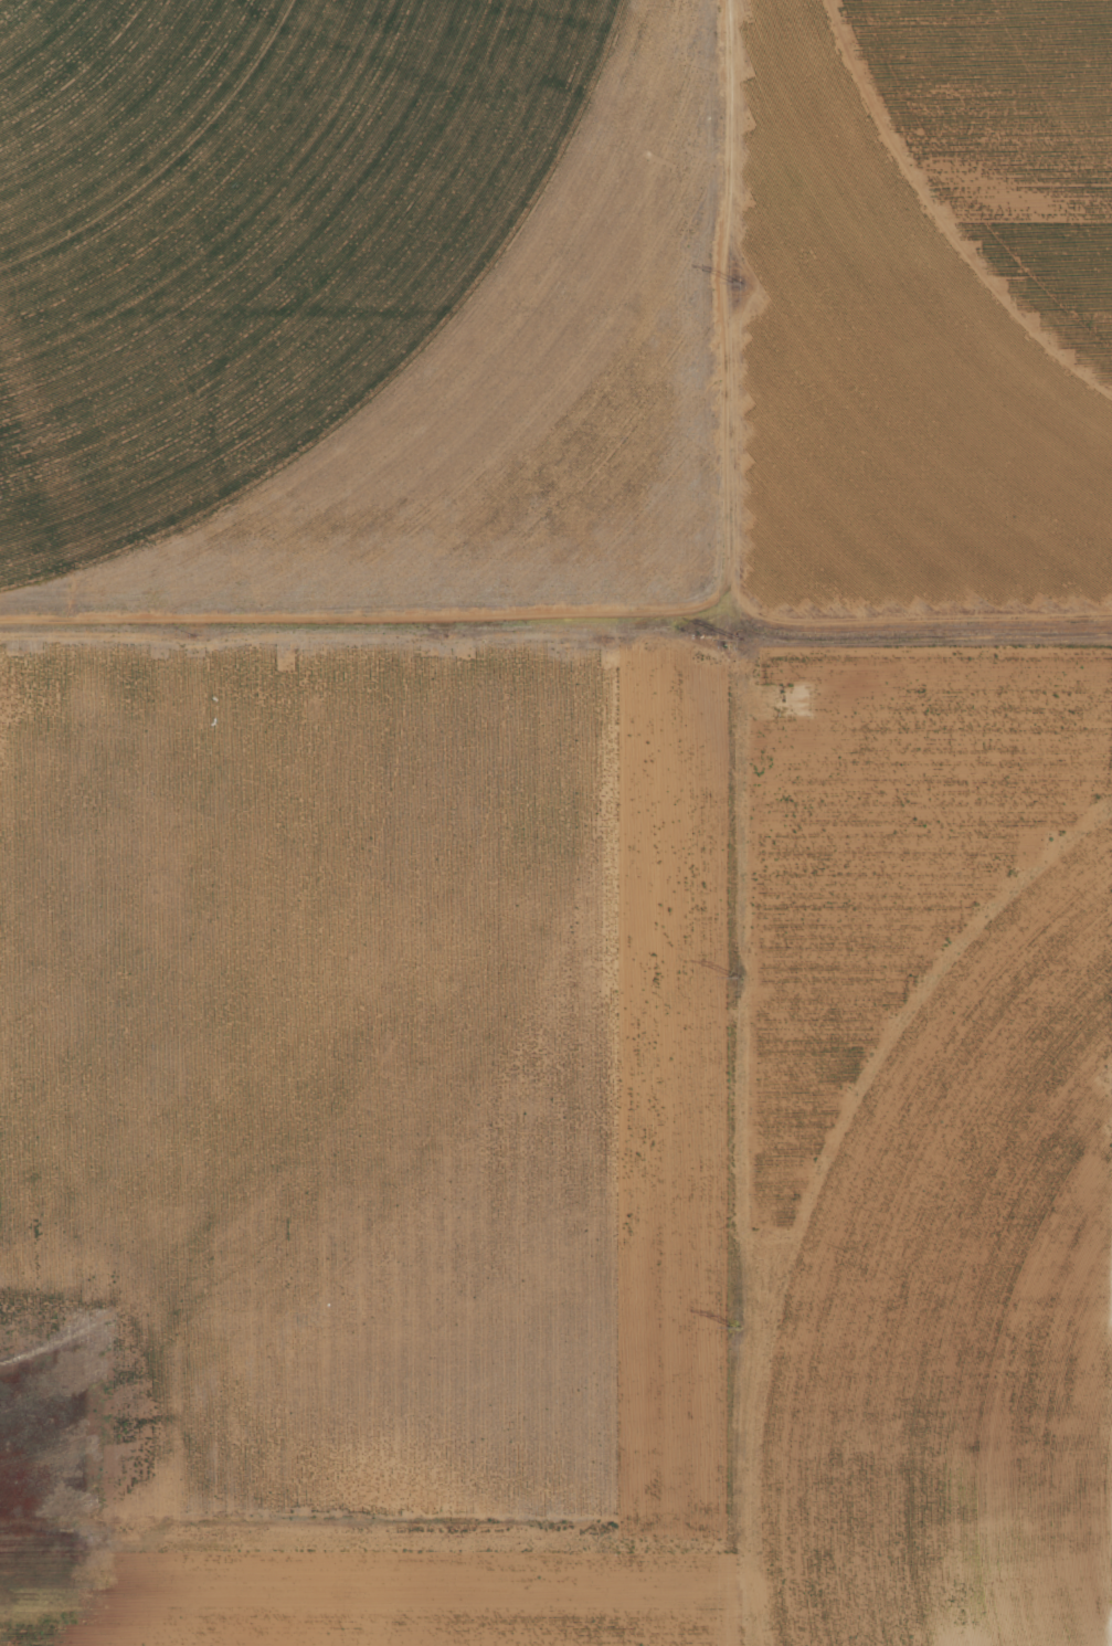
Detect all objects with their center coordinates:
power tower: (738, 284)
power tower: (738, 640)
power tower: (737, 977)
power tower: (737, 1328)

